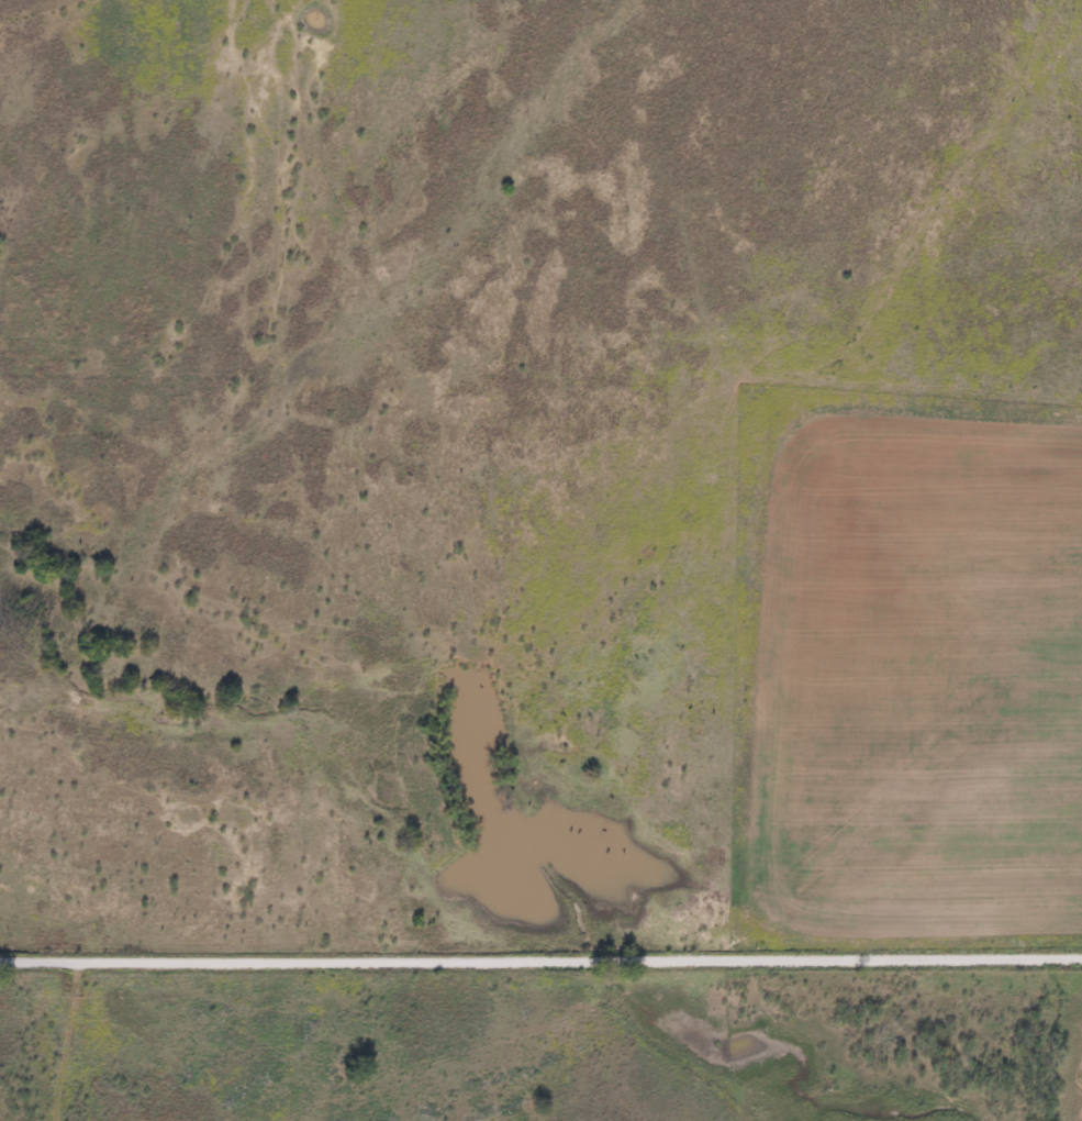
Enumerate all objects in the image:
road: (540, 961)

